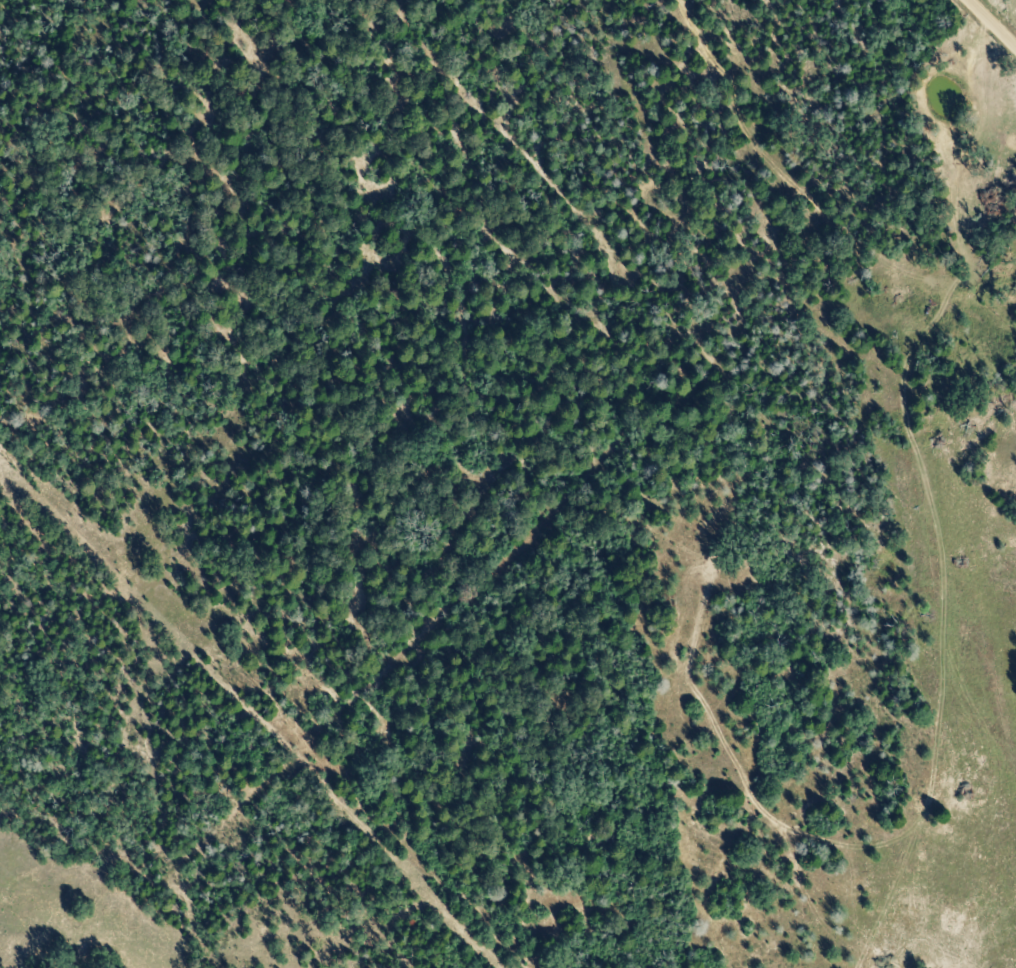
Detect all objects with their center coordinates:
road: (996, 19)

